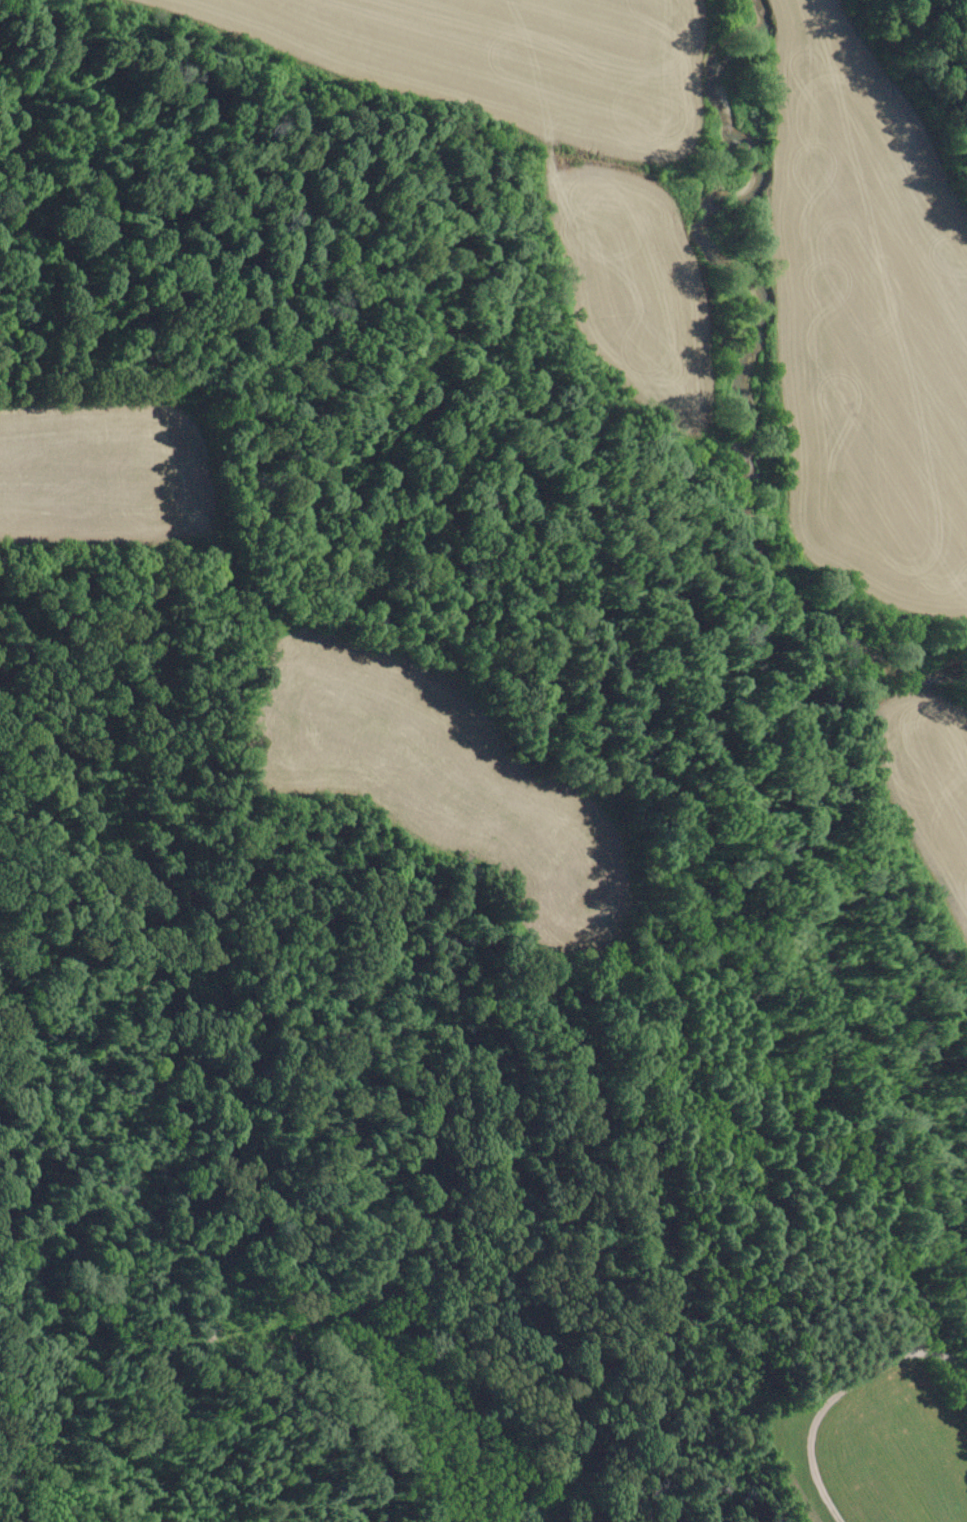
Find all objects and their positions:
road: (836, 1394)

